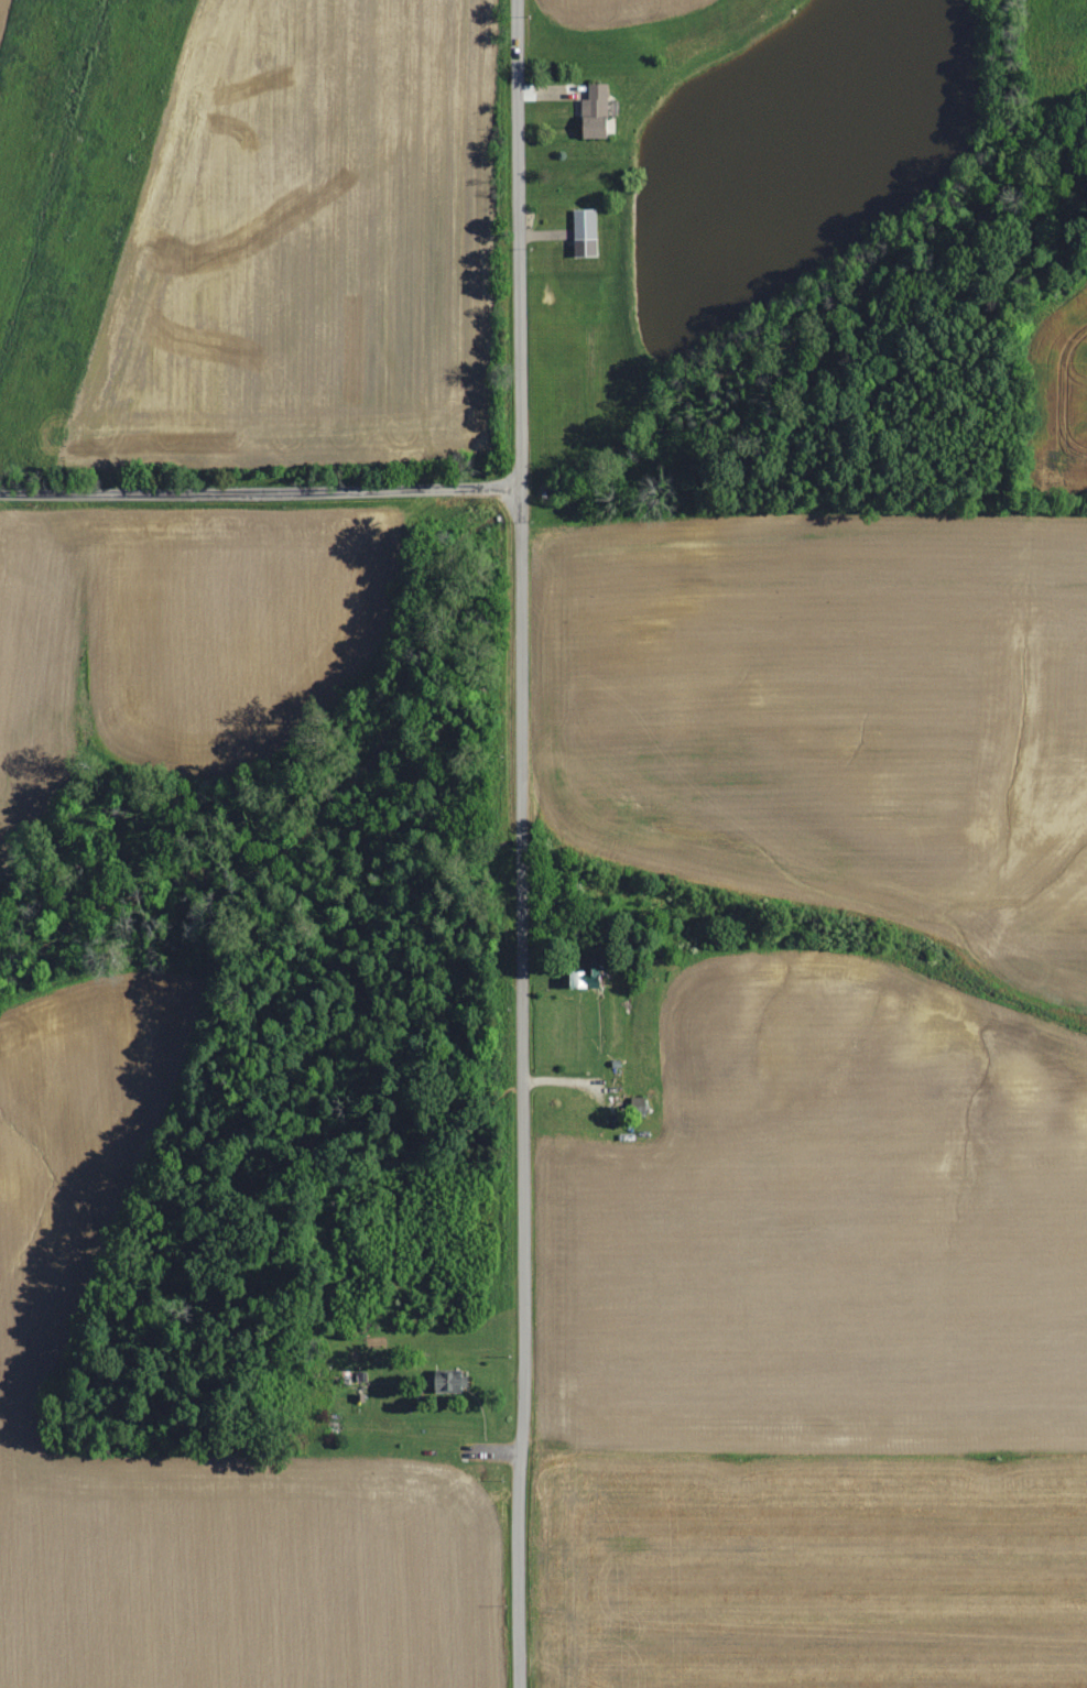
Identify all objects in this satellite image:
building: (599, 111)
building: (588, 231)
road: (260, 493)
road: (524, 843)
building: (586, 976)
building: (641, 1104)
building: (454, 1382)

